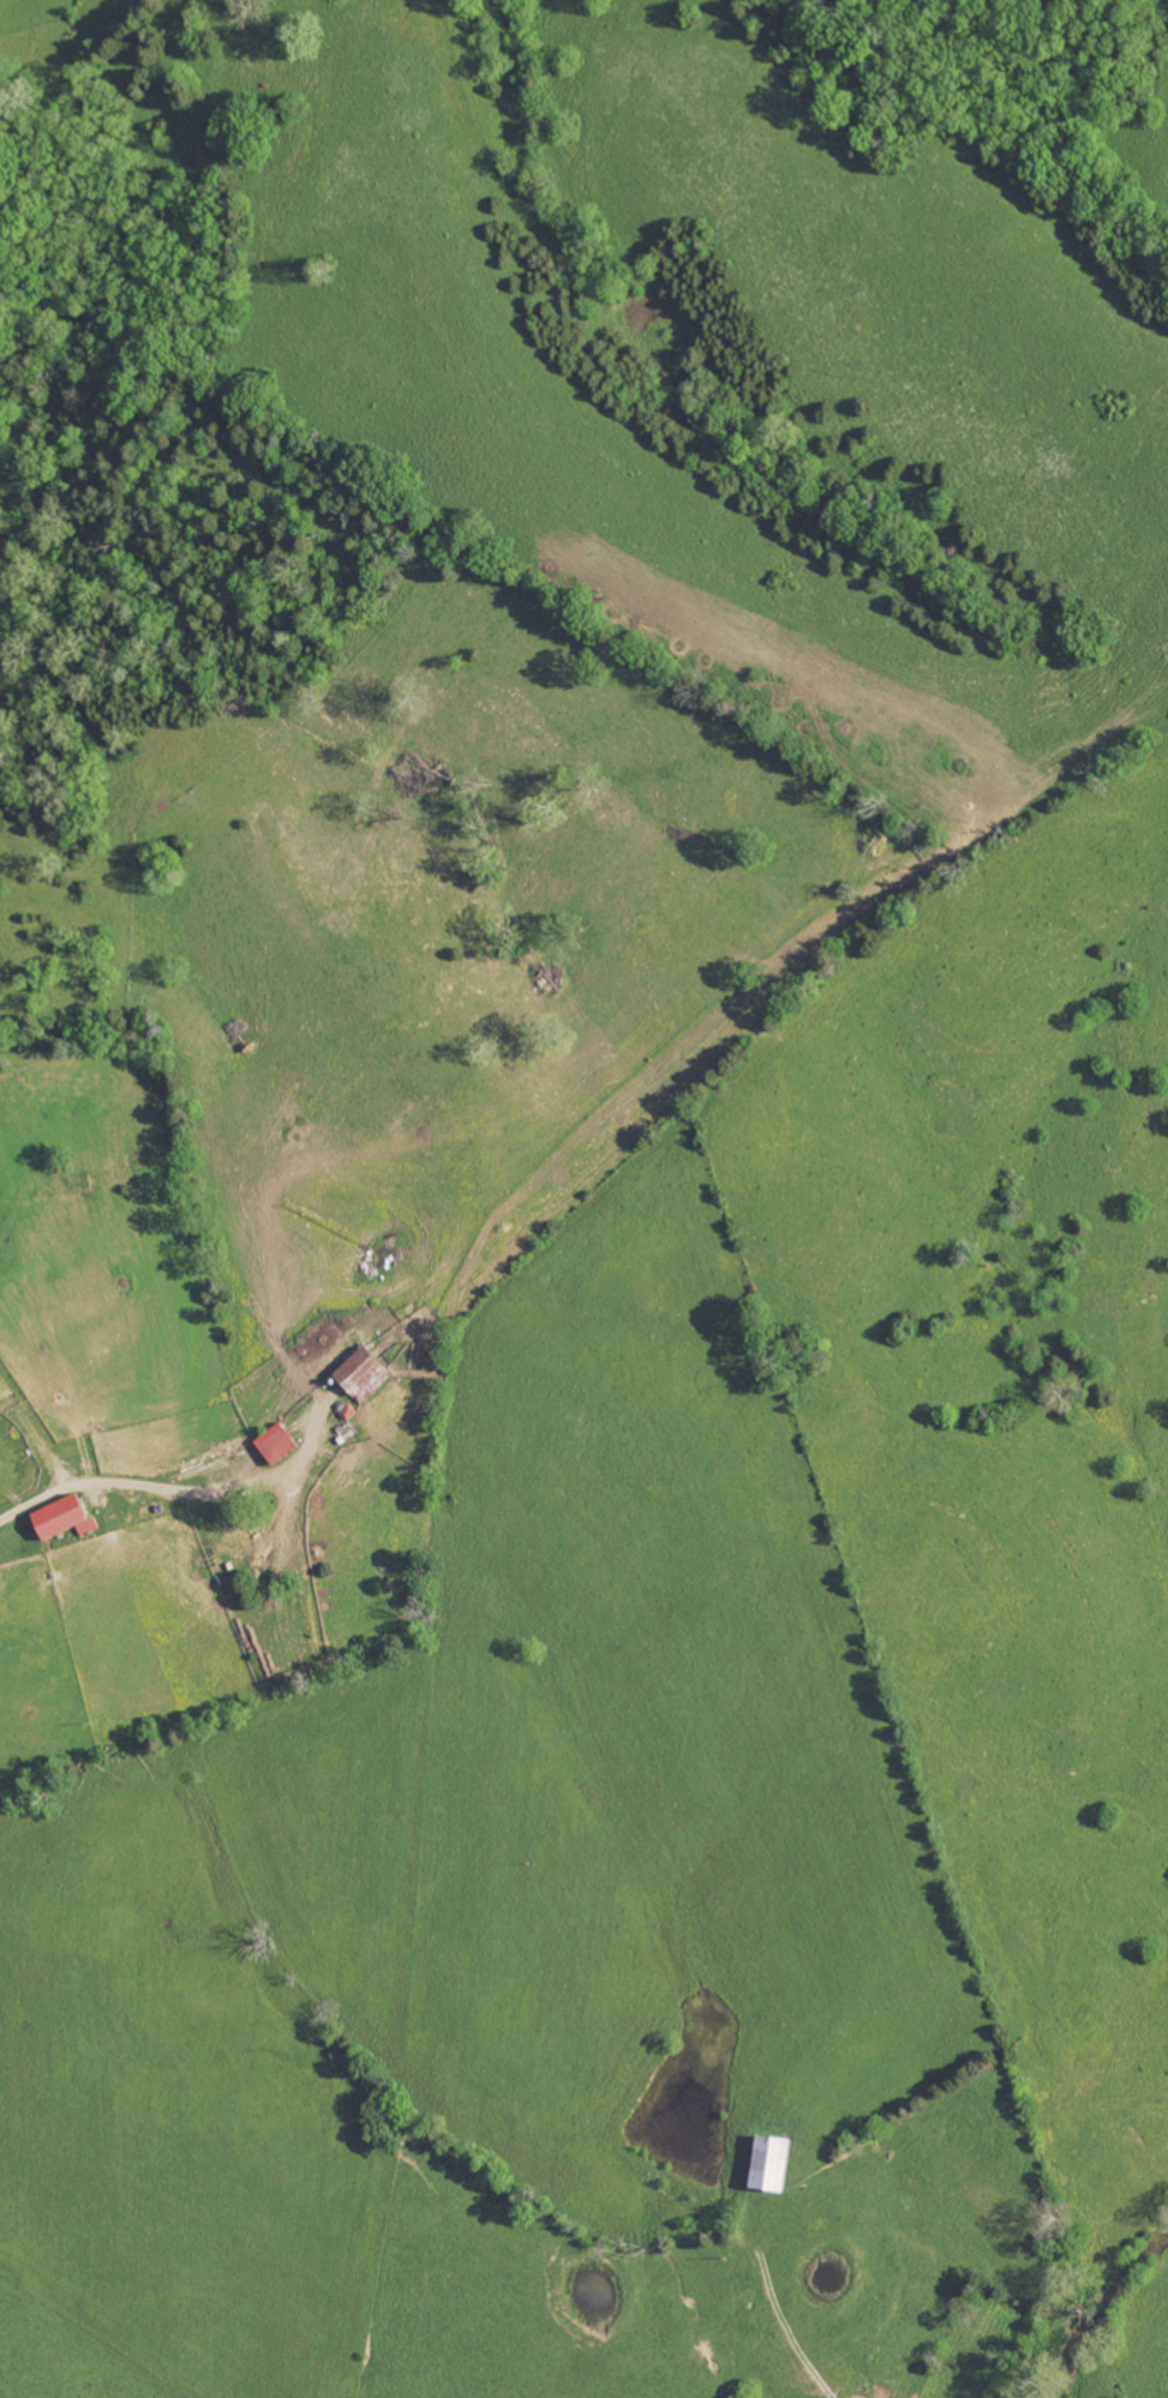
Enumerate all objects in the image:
building: (360, 1373)
building: (274, 1443)
road: (166, 1486)
building: (61, 1517)
building: (767, 2163)

